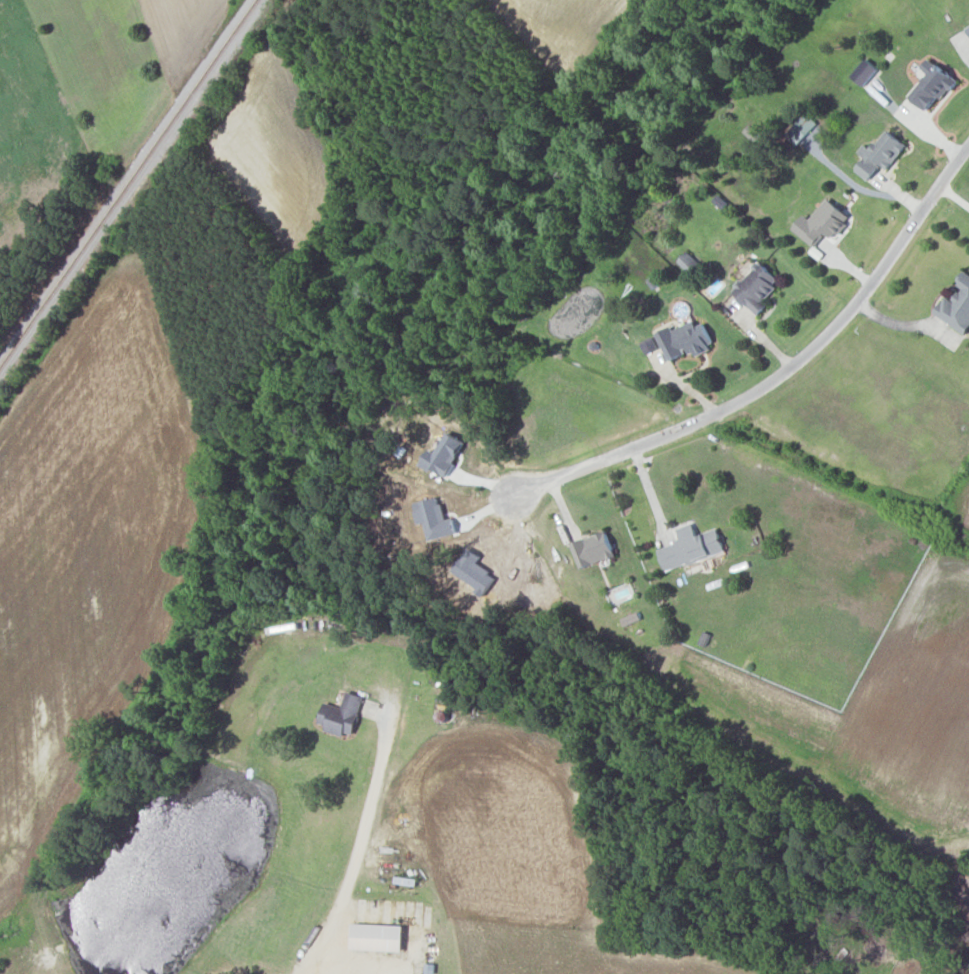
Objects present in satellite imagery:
building: (968, 27)
building: (864, 72)
building: (932, 86)
building: (801, 130)
building: (881, 154)
railway: (128, 183)
building: (822, 223)
building: (688, 262)
building: (756, 287)
building: (957, 307)
building: (686, 339)
road: (779, 374)
building: (691, 546)
building: (593, 548)
building: (630, 618)
building: (342, 714)
road: (359, 850)
building: (378, 936)
road: (362, 959)

